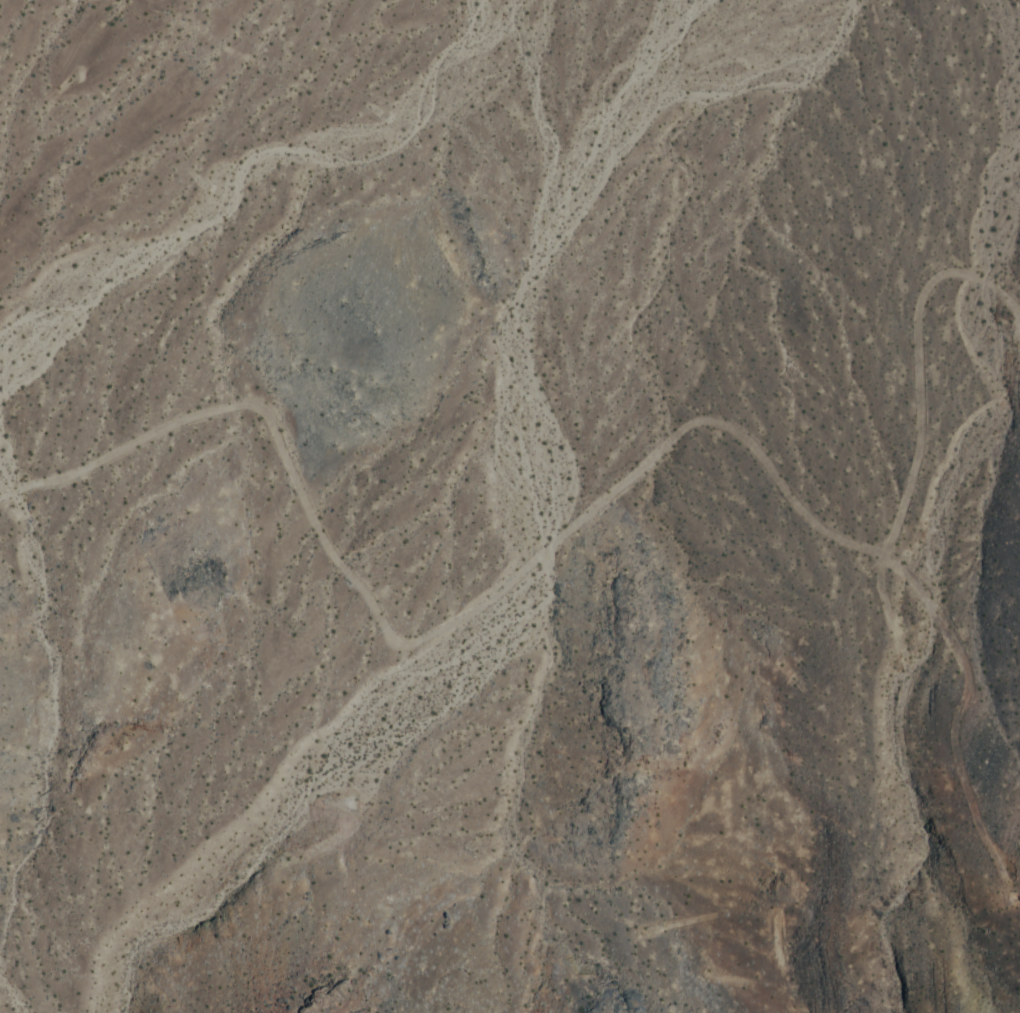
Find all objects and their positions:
road: (923, 409)
road: (458, 626)
road: (960, 748)

